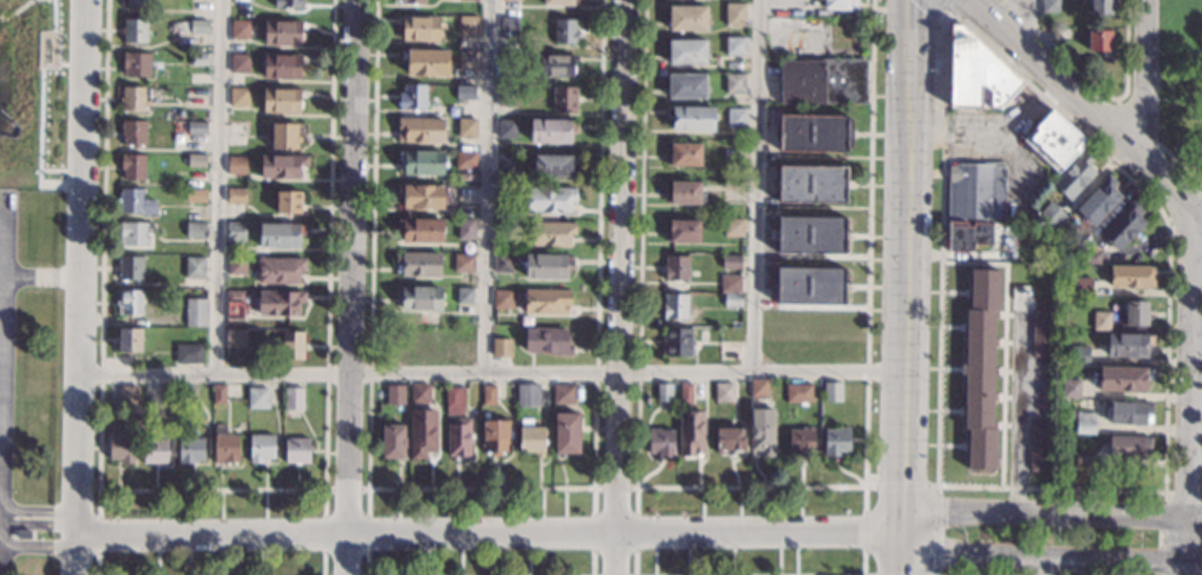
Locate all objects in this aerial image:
building: (467, 0)
building: (511, 0)
traffic signals: (909, 0)
building: (409, 1)
building: (559, 1)
building: (136, 2)
building: (287, 4)
building: (835, 5)
building: (1048, 6)
building: (1102, 6)
road: (944, 10)
road: (15, 11)
building: (732, 13)
road: (53, 15)
building: (685, 18)
road: (1026, 19)
building: (507, 23)
building: (197, 25)
building: (466, 25)
building: (419, 28)
building: (238, 29)
building: (134, 30)
building: (564, 31)
building: (281, 33)
building: (1060, 34)
building: (1099, 41)
building: (734, 46)
building: (685, 51)
building: (199, 58)
building: (466, 59)
building: (507, 61)
building: (238, 63)
building: (426, 63)
building: (136, 64)
road: (1173, 64)
building: (554, 65)
building: (280, 67)
road: (58, 68)
building: (977, 73)
road: (1143, 79)
building: (235, 80)
building: (822, 81)
building: (732, 82)
building: (684, 85)
park: (1180, 85)
building: (465, 92)
building: (237, 97)
building: (412, 97)
building: (132, 98)
building: (563, 99)
building: (280, 100)
road: (1087, 105)
building: (688, 117)
building: (734, 117)
building: (195, 127)
building: (236, 127)
building: (466, 128)
building: (506, 128)
building: (419, 130)
building: (552, 131)
road: (39, 132)
building: (133, 132)
building: (811, 133)
building: (282, 134)
building: (1053, 142)
building: (683, 154)
building: (464, 159)
building: (195, 160)
building: (421, 162)
building: (506, 162)
building: (132, 165)
building: (236, 165)
building: (282, 166)
building: (552, 166)
building: (1074, 177)
building: (811, 184)
road: (217, 186)
road: (485, 186)
road: (754, 186)
building: (977, 190)
building: (729, 191)
building: (681, 192)
building: (194, 195)
building: (235, 196)
building: (421, 196)
building: (548, 200)
building: (1098, 201)
building: (134, 202)
building: (287, 202)
building: (1051, 215)
road: (4, 218)
building: (505, 226)
building: (731, 226)
building: (1122, 226)
building: (194, 229)
building: (465, 229)
building: (420, 230)
building: (234, 231)
building: (680, 231)
building: (133, 234)
building: (278, 234)
building: (551, 234)
building: (809, 234)
building: (967, 236)
building: (1089, 257)
building: (729, 261)
building: (462, 263)
building: (502, 263)
building: (418, 264)
building: (235, 265)
building: (546, 266)
building: (130, 268)
building: (673, 268)
road: (2, 269)
building: (194, 269)
building: (278, 270)
building: (1132, 276)
road: (42, 278)
building: (727, 282)
building: (809, 284)
road: (77, 287)
road: (351, 287)
road: (619, 287)
road: (904, 287)
building: (1081, 287)
building: (419, 297)
building: (502, 299)
building: (731, 299)
building: (130, 301)
building: (464, 301)
building: (546, 301)
building: (280, 303)
building: (234, 304)
building: (672, 306)
parking lot: (6, 309)
building: (194, 314)
building: (1137, 314)
road: (2, 317)
building: (1100, 321)
building: (1041, 332)
building: (234, 338)
building: (128, 339)
building: (675, 340)
building: (546, 341)
building: (291, 344)
building: (1128, 344)
building: (500, 347)
building: (189, 355)
building: (1079, 355)
road: (5, 364)
road: (2, 369)
building: (979, 369)
road: (490, 374)
building: (1122, 379)
building: (757, 387)
building: (1070, 389)
road: (1190, 390)
building: (661, 391)
building: (684, 392)
building: (721, 392)
building: (796, 392)
building: (830, 392)
building: (189, 393)
building: (393, 393)
building: (419, 393)
building: (562, 393)
building: (218, 395)
building: (128, 396)
building: (488, 396)
building: (527, 396)
building: (257, 397)
building: (292, 398)
building: (453, 401)
road: (1019, 407)
building: (1128, 412)
road: (1, 421)
building: (1085, 422)
building: (761, 431)
building: (421, 432)
building: (565, 432)
building: (689, 433)
building: (530, 435)
building: (494, 436)
building: (458, 438)
building: (392, 441)
building: (727, 441)
building: (658, 442)
building: (799, 442)
building: (835, 442)
building: (224, 445)
building: (1127, 447)
building: (120, 448)
building: (260, 448)
building: (1039, 448)
building: (154, 450)
building: (190, 450)
building: (295, 450)
building: (1083, 461)
building: (15, 478)
road: (899, 485)
road: (479, 487)
road: (614, 487)
road: (748, 487)
road: (209, 489)
road: (346, 489)
road: (98, 504)
road: (33, 510)
road: (1051, 511)
road: (35, 524)
road: (488, 533)
road: (98, 535)
road: (0, 546)
road: (36, 547)
road: (1051, 553)
road: (97, 564)
road: (1041, 564)

